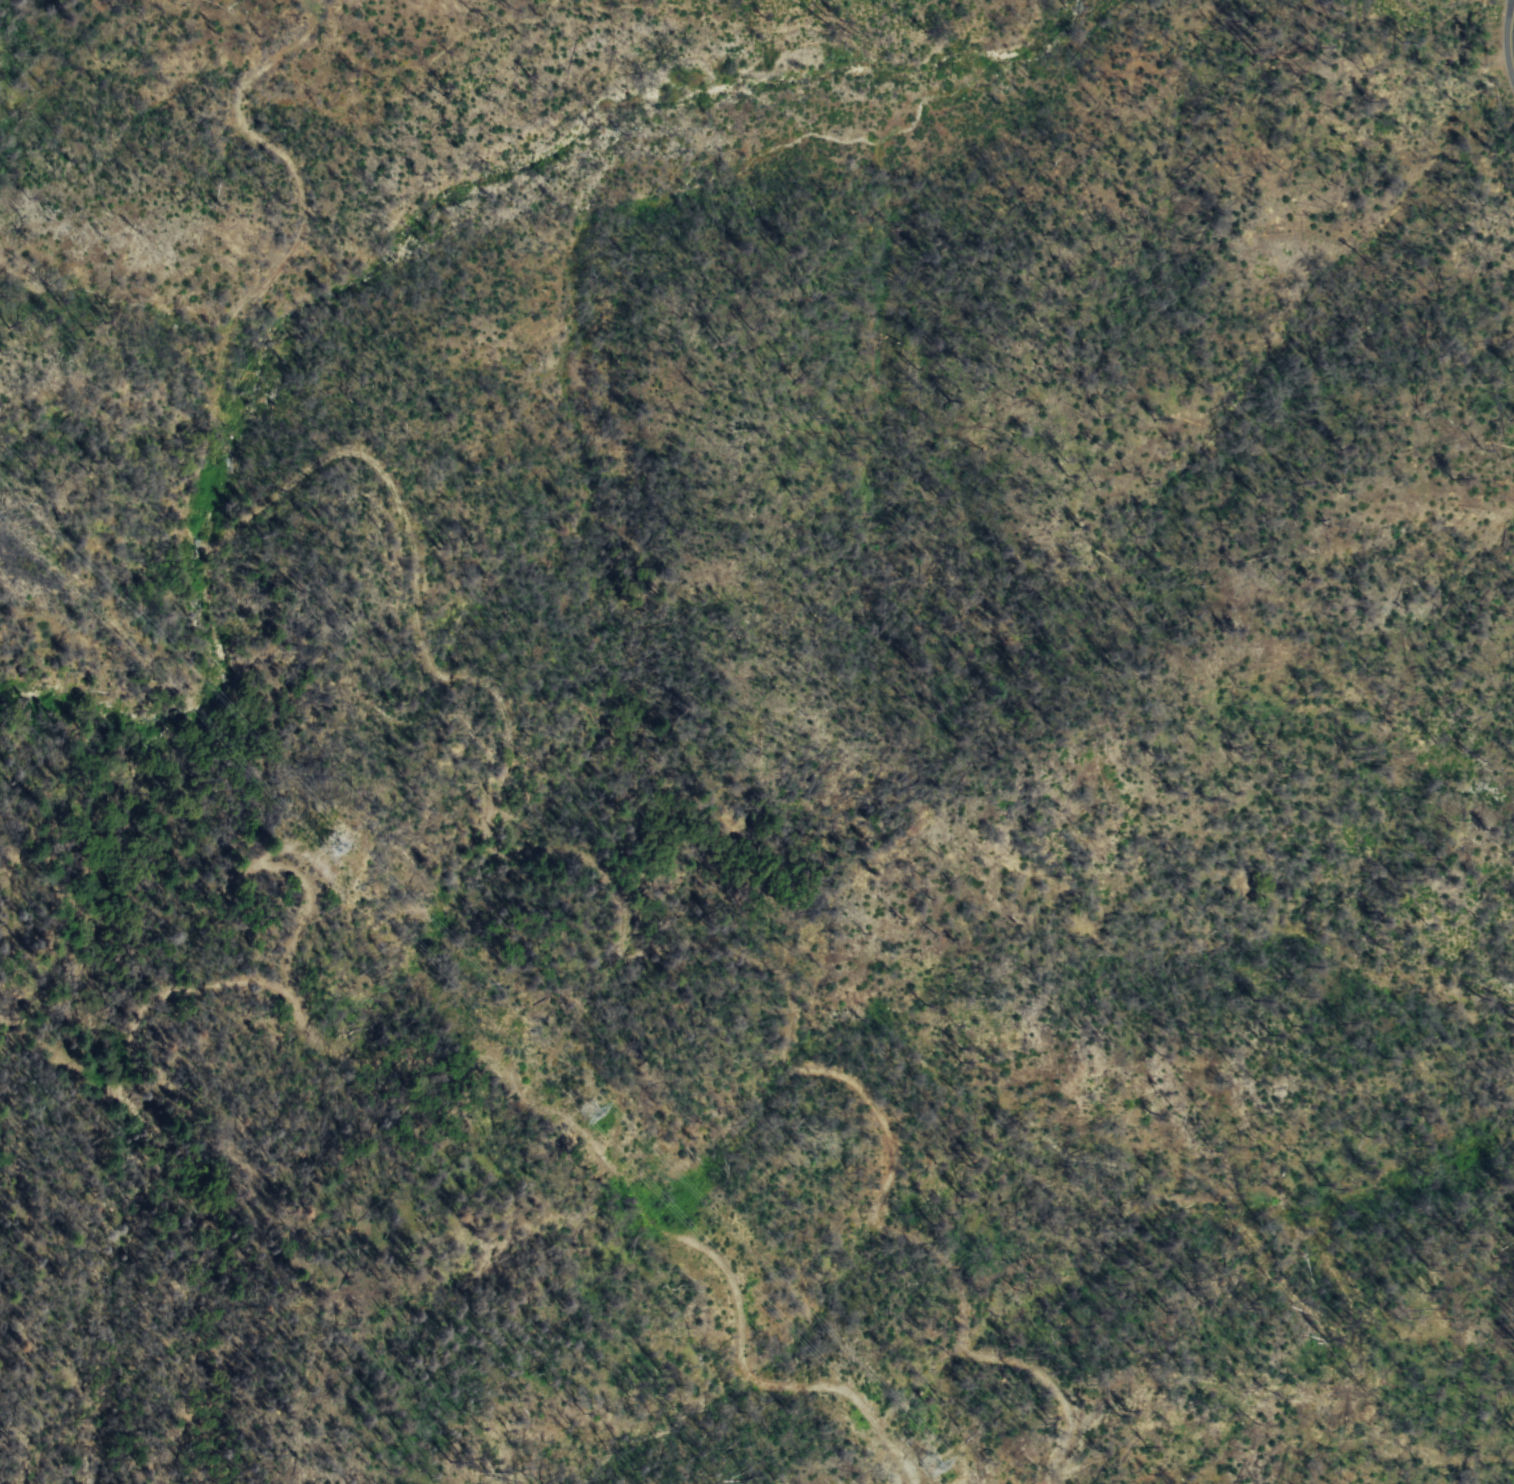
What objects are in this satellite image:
power tower: (323, 850)
power tower: (574, 1111)
power tower: (923, 1466)

